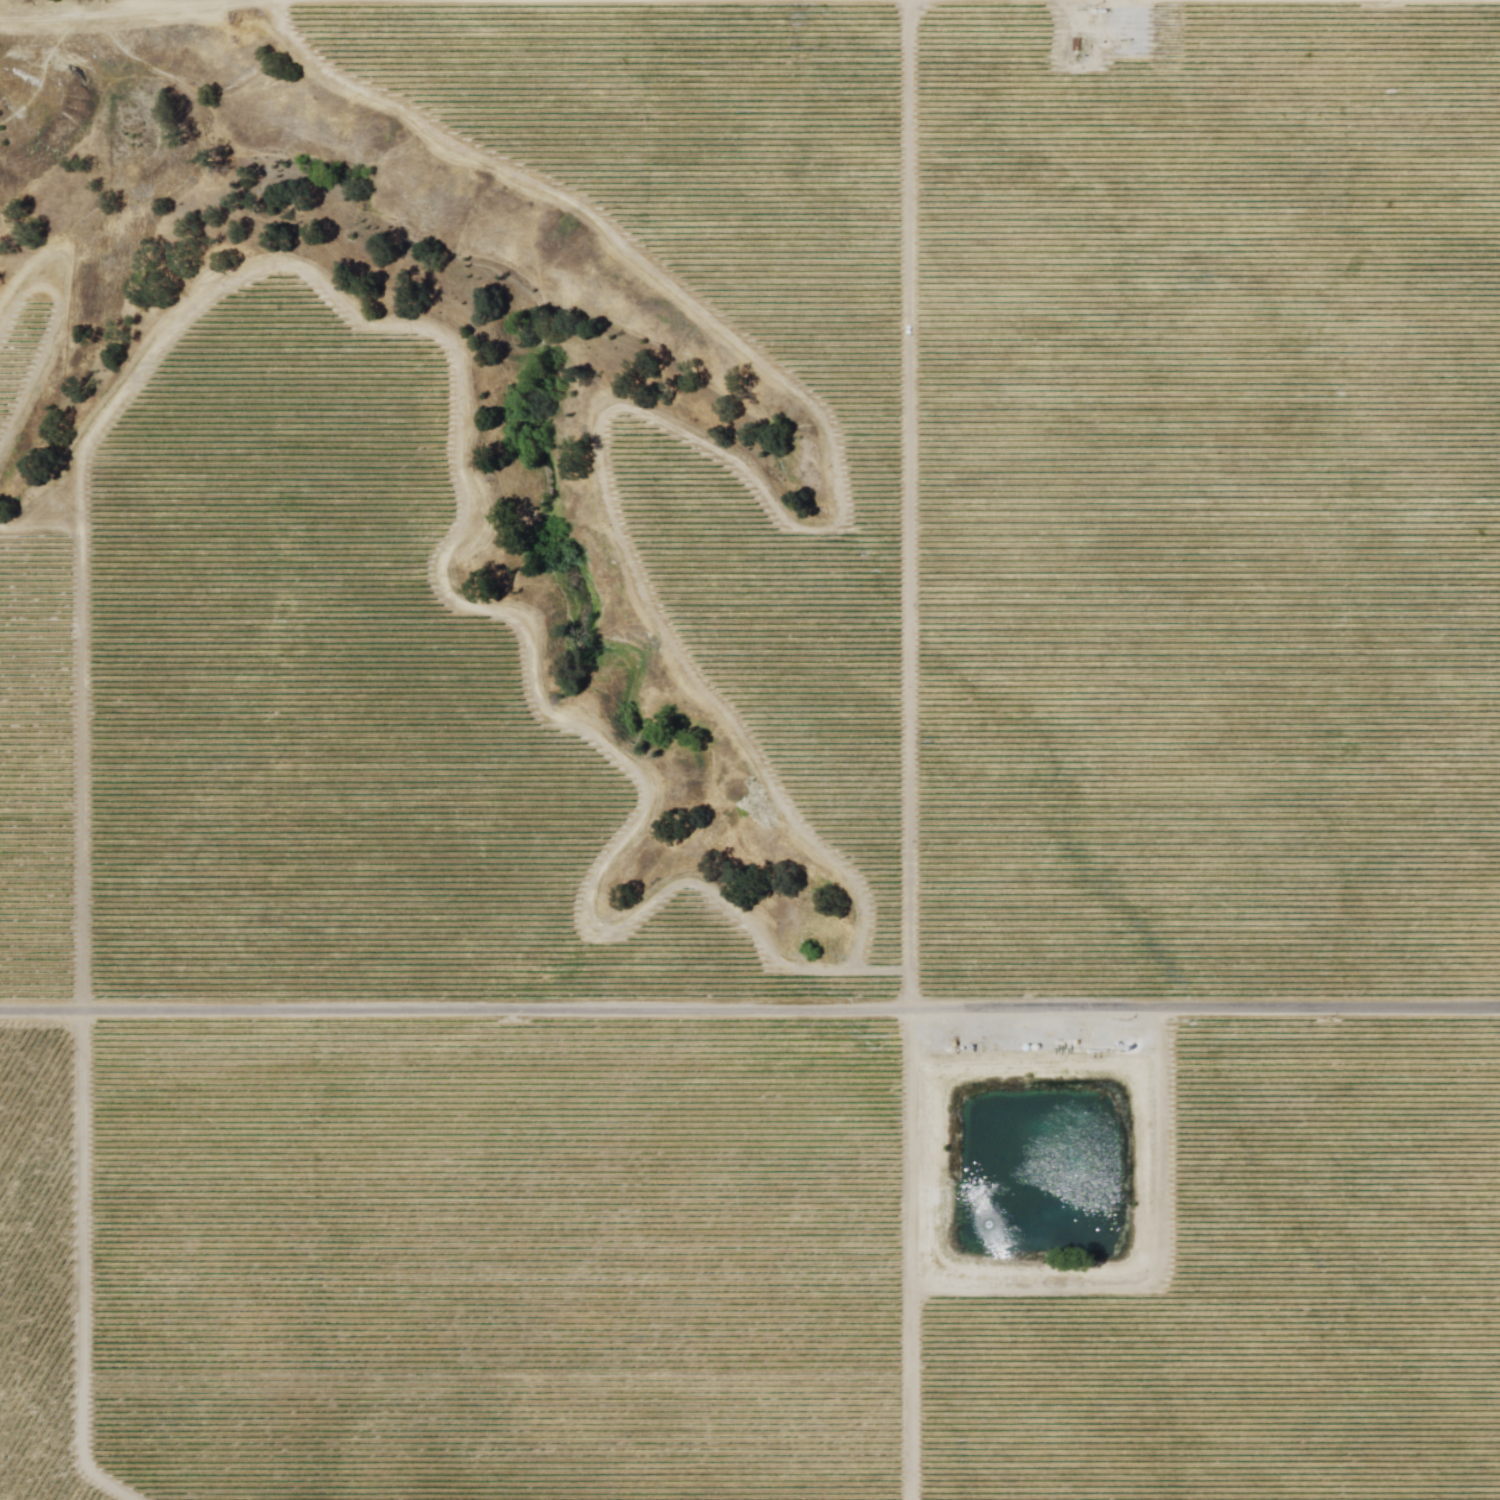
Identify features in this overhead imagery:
road: (749, 1008)

